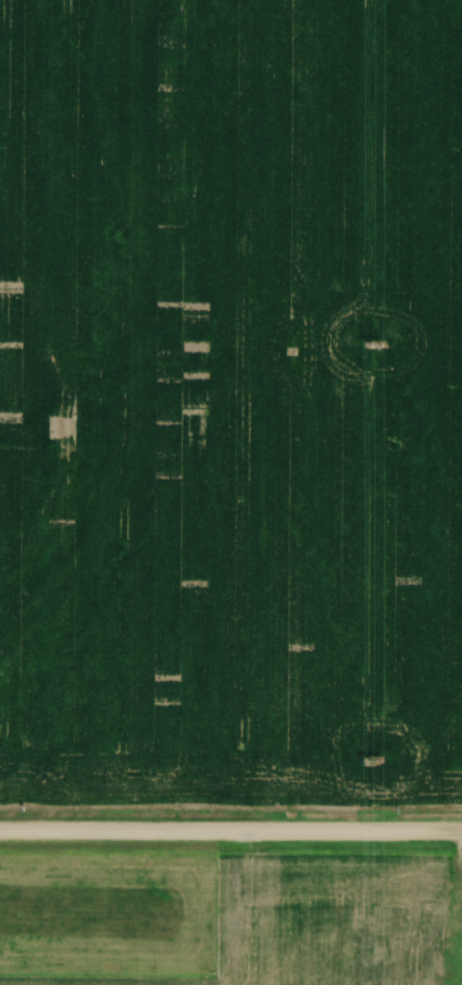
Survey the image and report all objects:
power tower: (375, 344)
power tower: (374, 759)
road: (230, 829)

